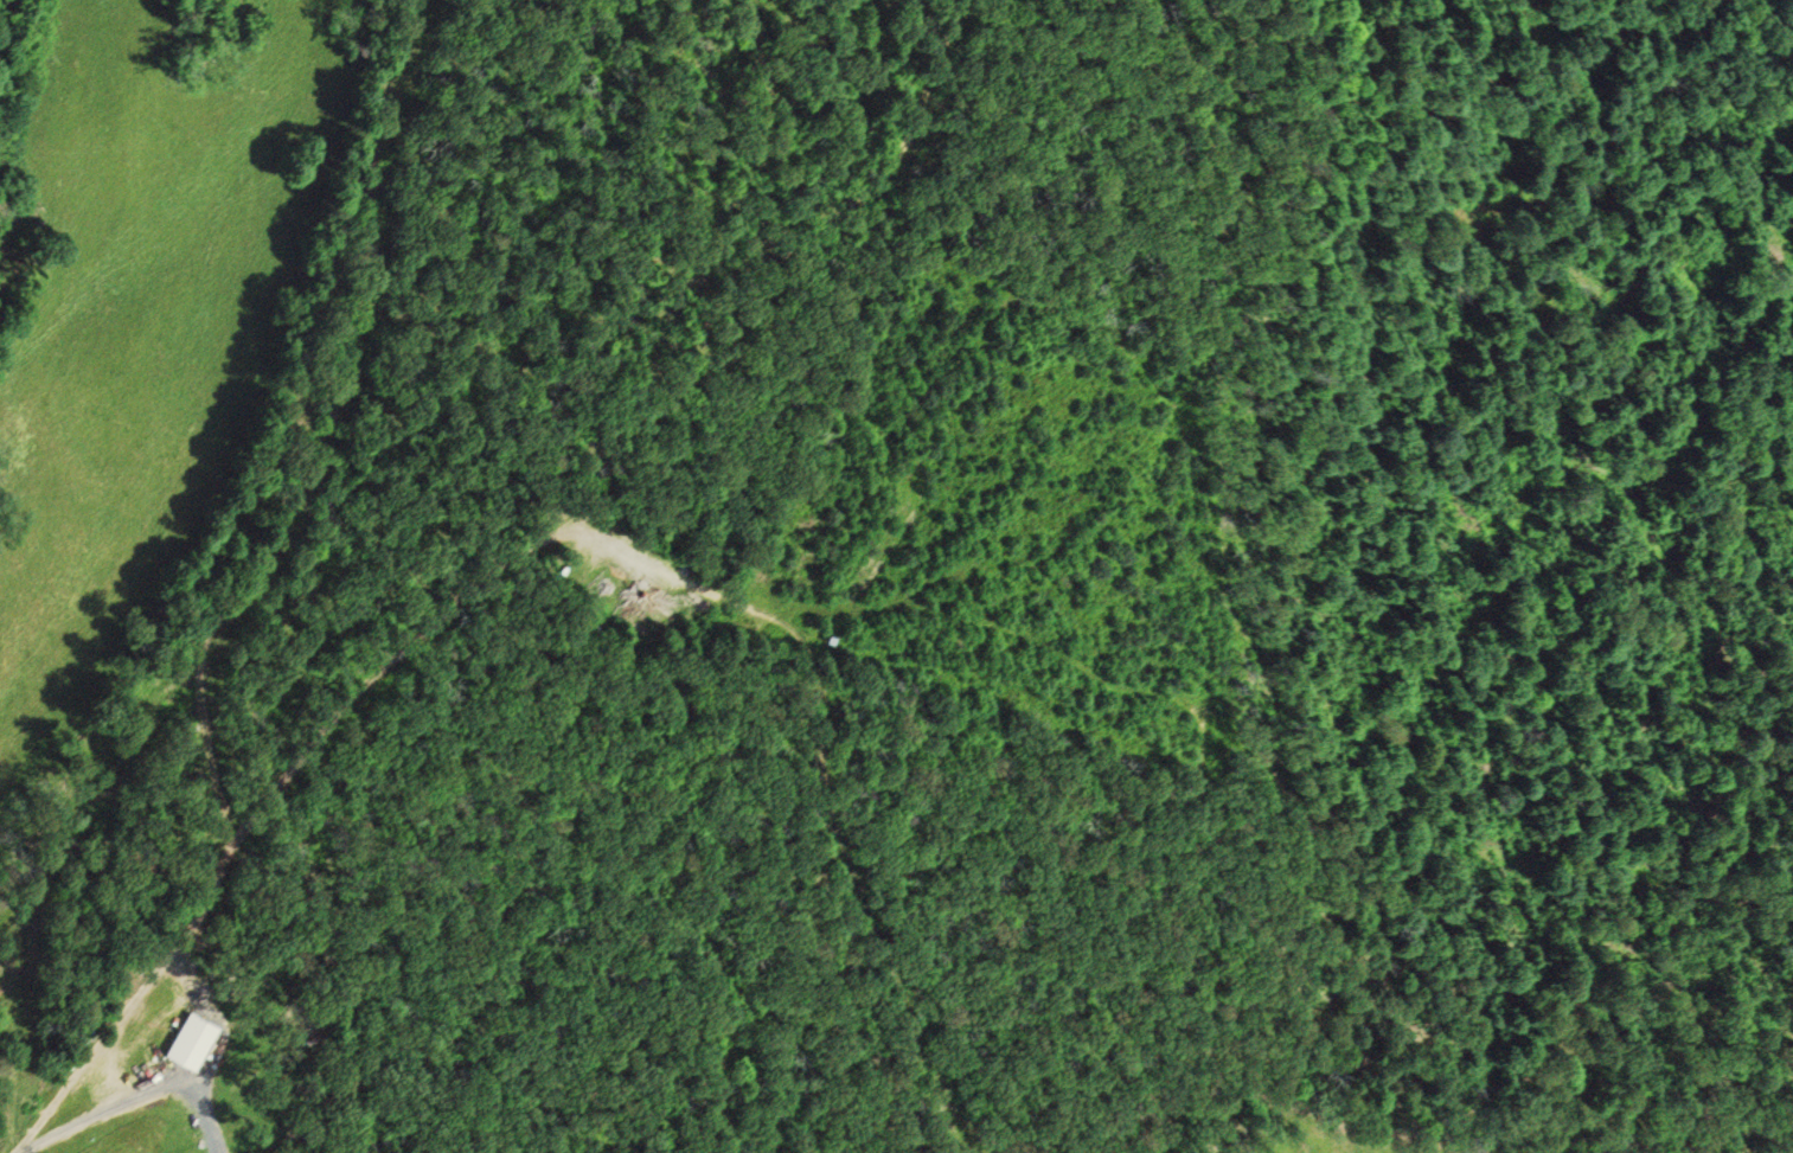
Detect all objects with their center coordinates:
building: (197, 1039)

